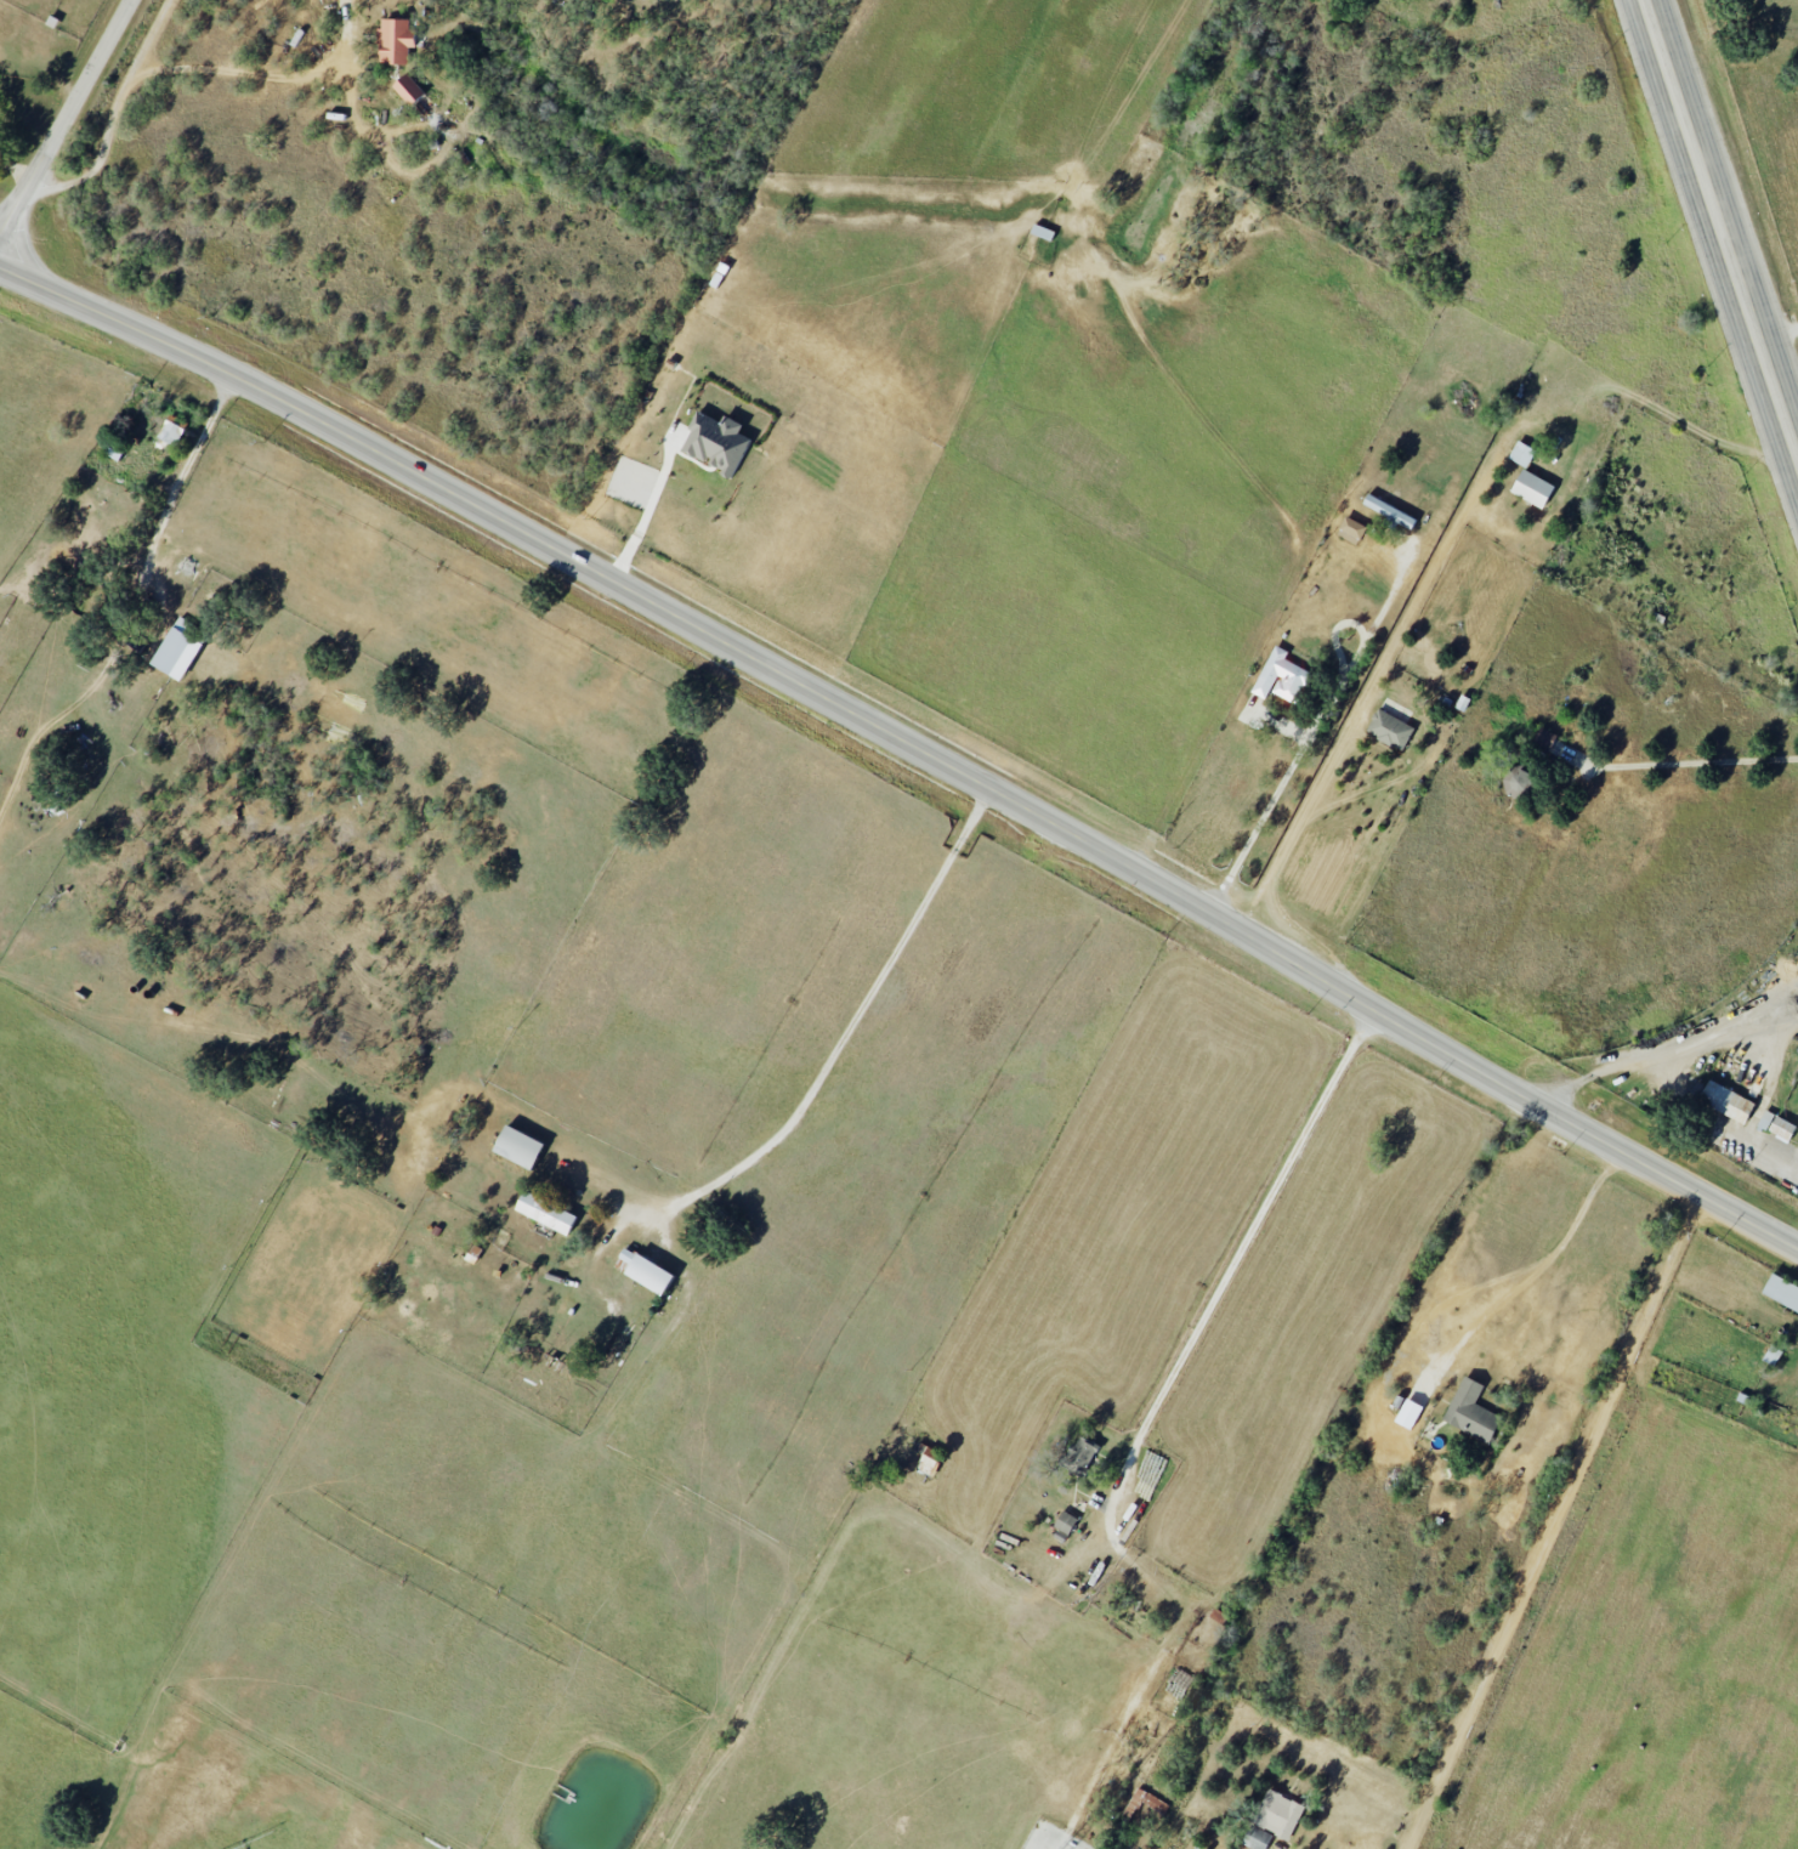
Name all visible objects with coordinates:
building: (393, 41)
road: (262, 75)
building: (407, 89)
road: (64, 117)
road: (113, 119)
road: (1730, 214)
road: (1782, 325)
building: (171, 431)
building: (714, 443)
building: (1521, 453)
road: (175, 483)
building: (1531, 488)
building: (1389, 511)
building: (1350, 531)
road: (1446, 537)
building: (177, 650)
building: (1278, 676)
road: (1315, 726)
building: (1389, 728)
building: (1542, 737)
road: (907, 742)
road: (1680, 760)
building: (1519, 782)
road: (844, 1034)
road: (1671, 1049)
building: (1725, 1101)
building: (1775, 1127)
building: (517, 1147)
building: (544, 1213)
road: (1237, 1253)
building: (645, 1272)
road: (1527, 1275)
building: (1781, 1293)
building: (1470, 1412)
building: (1080, 1454)
road: (1549, 1521)
building: (1064, 1522)
building: (1218, 1616)
building: (1144, 1804)
building: (1277, 1815)
building: (1257, 1837)

